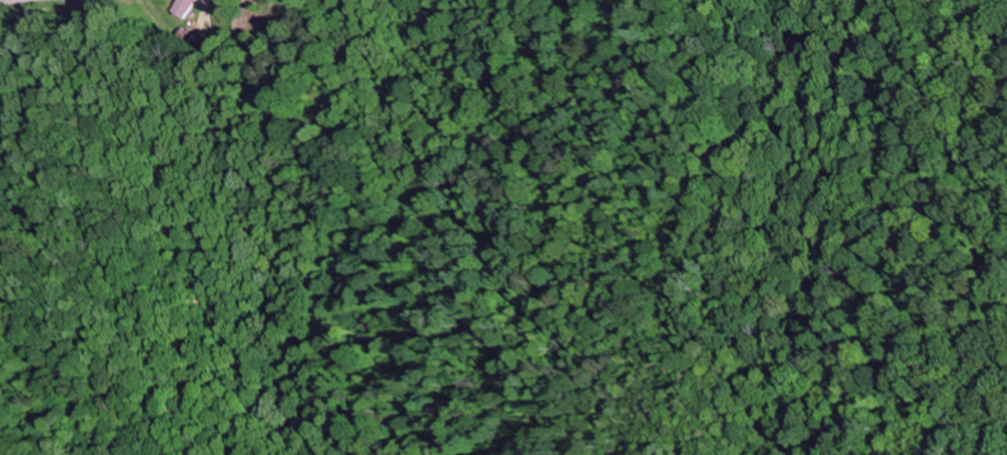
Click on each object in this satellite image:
road: (15, 2)
building: (182, 7)

